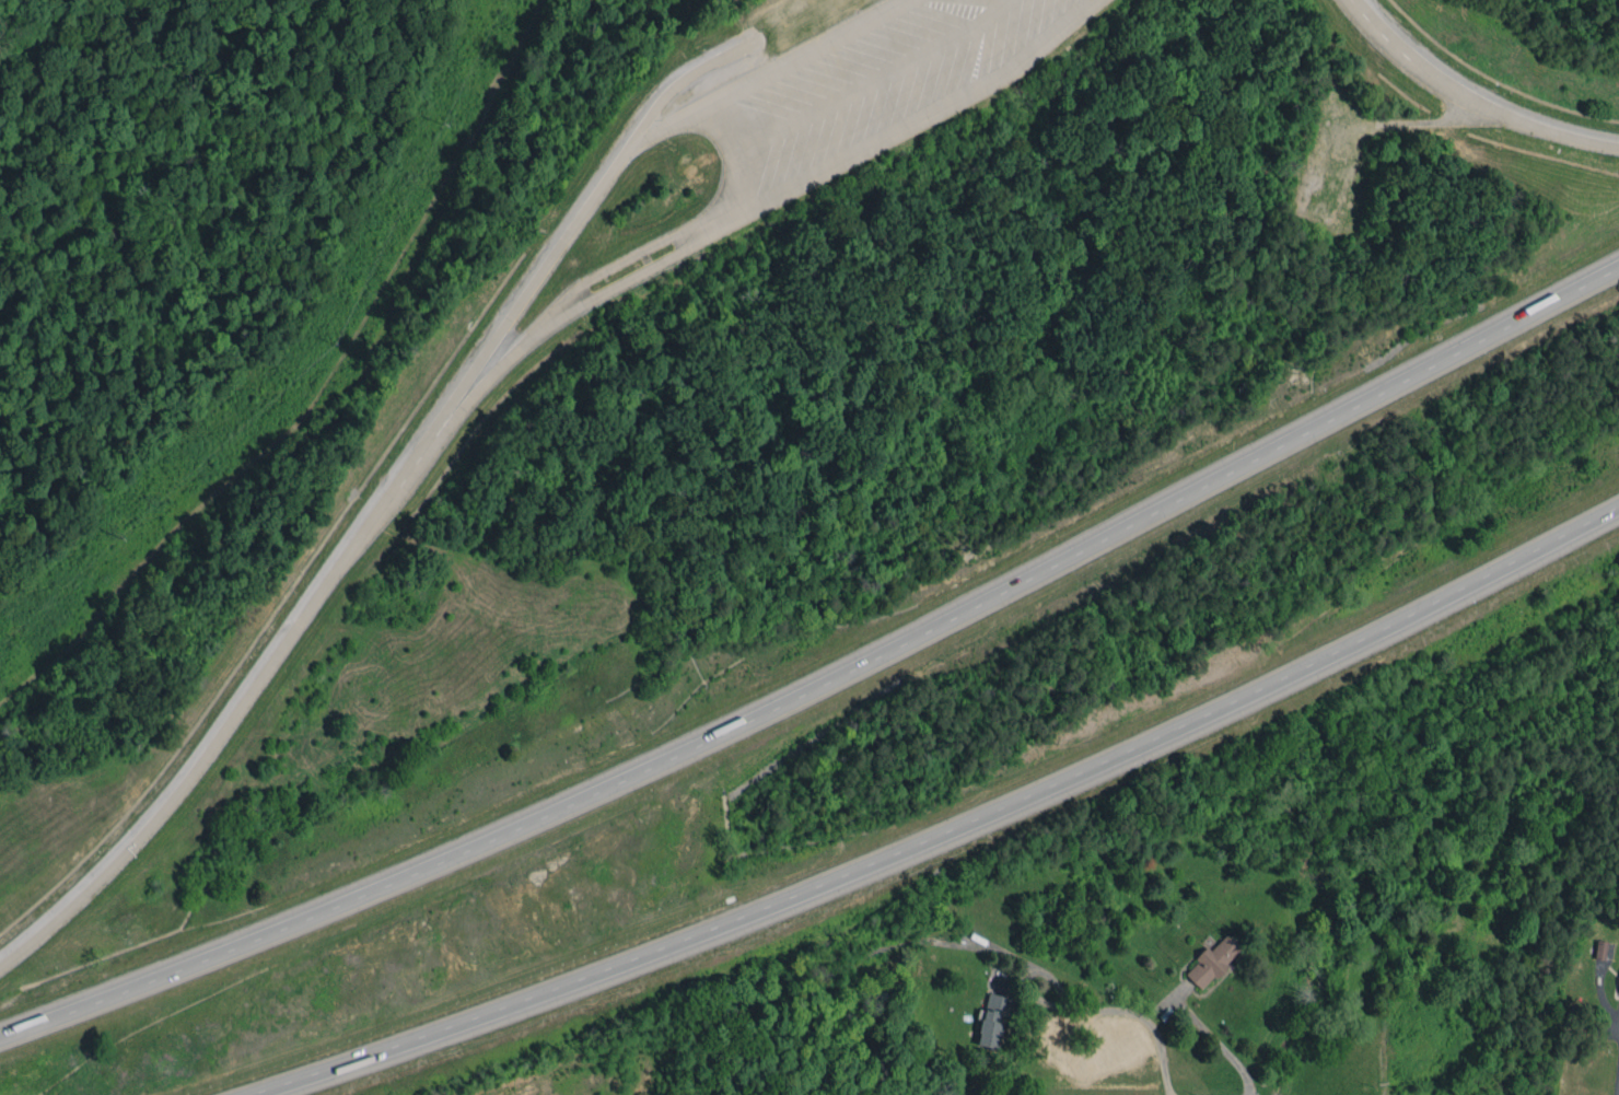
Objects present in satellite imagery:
road: (865, 81)
road: (752, 83)
road: (1468, 102)
road: (900, 129)
road: (711, 130)
road: (590, 198)
road: (581, 307)
road: (824, 685)
road: (218, 726)
road: (952, 831)
building: (1600, 948)
building: (1211, 962)
road: (1025, 972)
building: (1618, 989)
building: (993, 1018)
road: (1146, 1020)
road: (1218, 1040)

